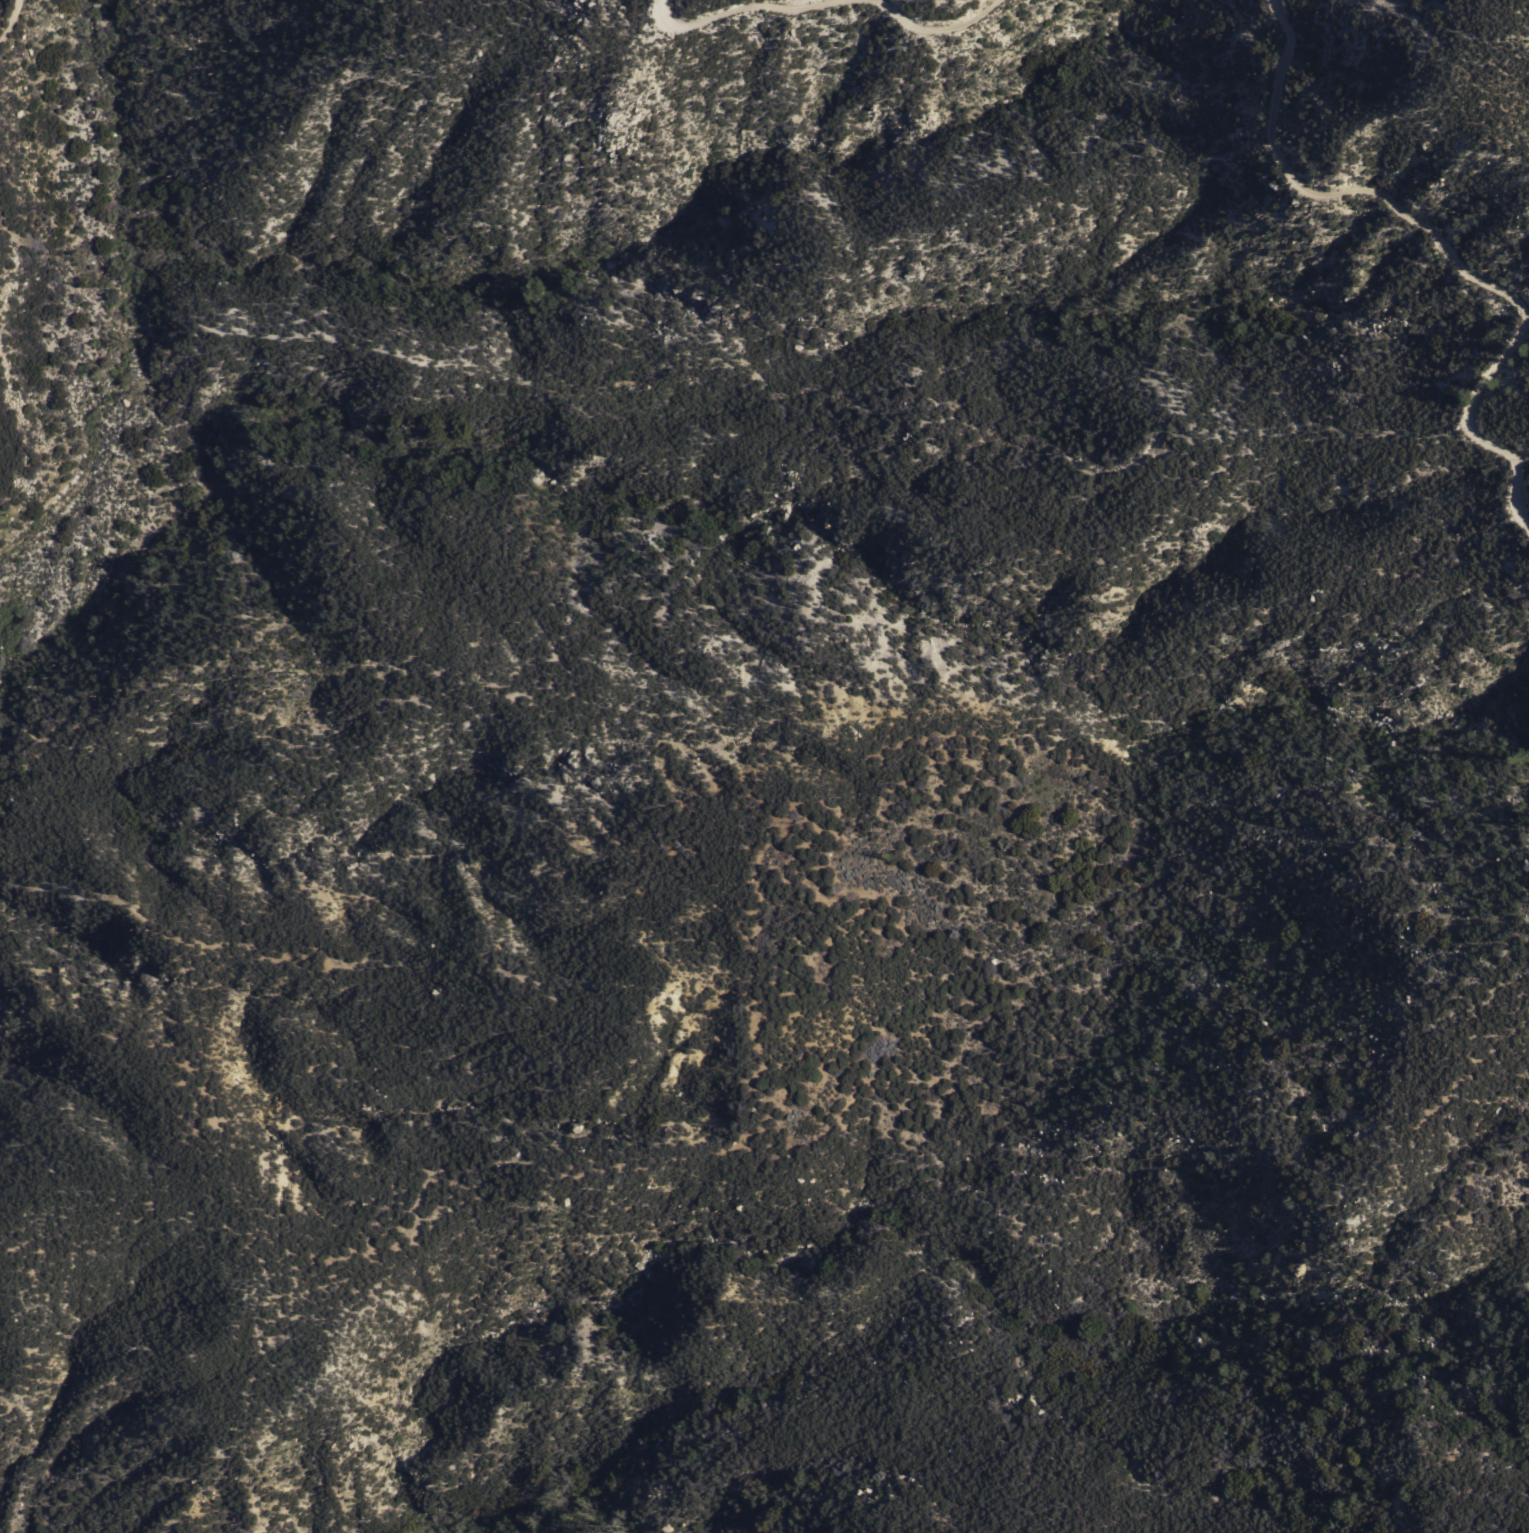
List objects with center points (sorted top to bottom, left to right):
road: (828, 2)
road: (13, 21)
road: (1444, 235)
road: (180, 400)

